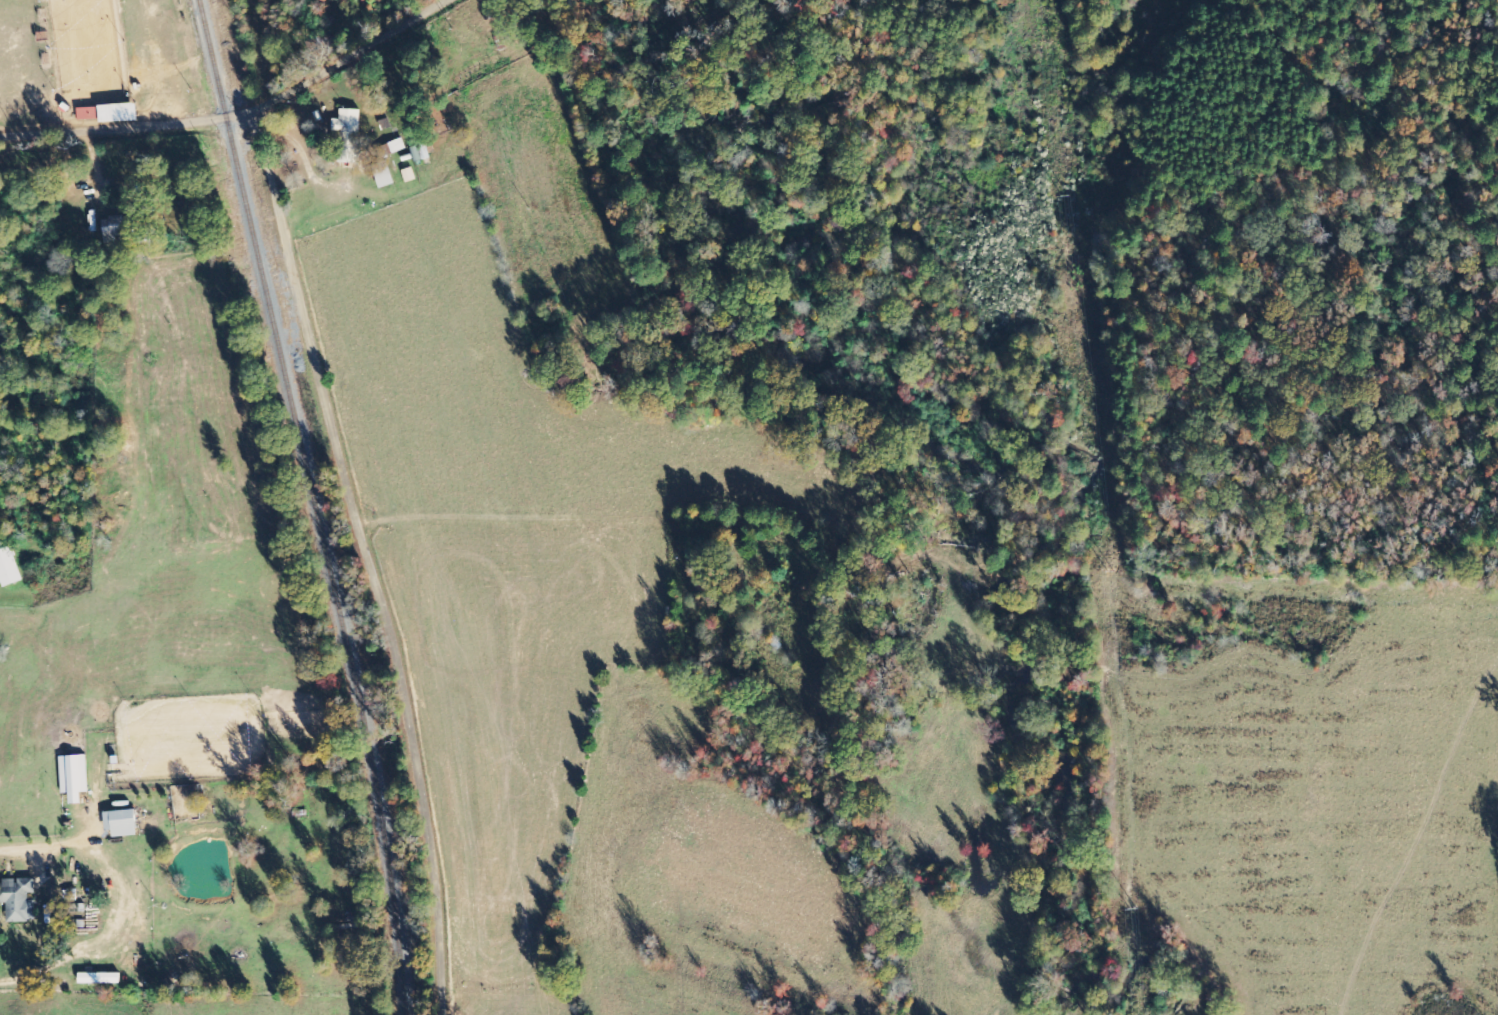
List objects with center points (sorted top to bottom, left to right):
road: (262, 109)
building: (108, 115)
building: (349, 135)
building: (409, 175)
building: (385, 177)
railway: (320, 503)
road: (365, 561)
building: (9, 567)
power tower: (1103, 574)
building: (74, 777)
building: (122, 823)
building: (19, 899)
power tower: (1134, 910)
building: (100, 978)

